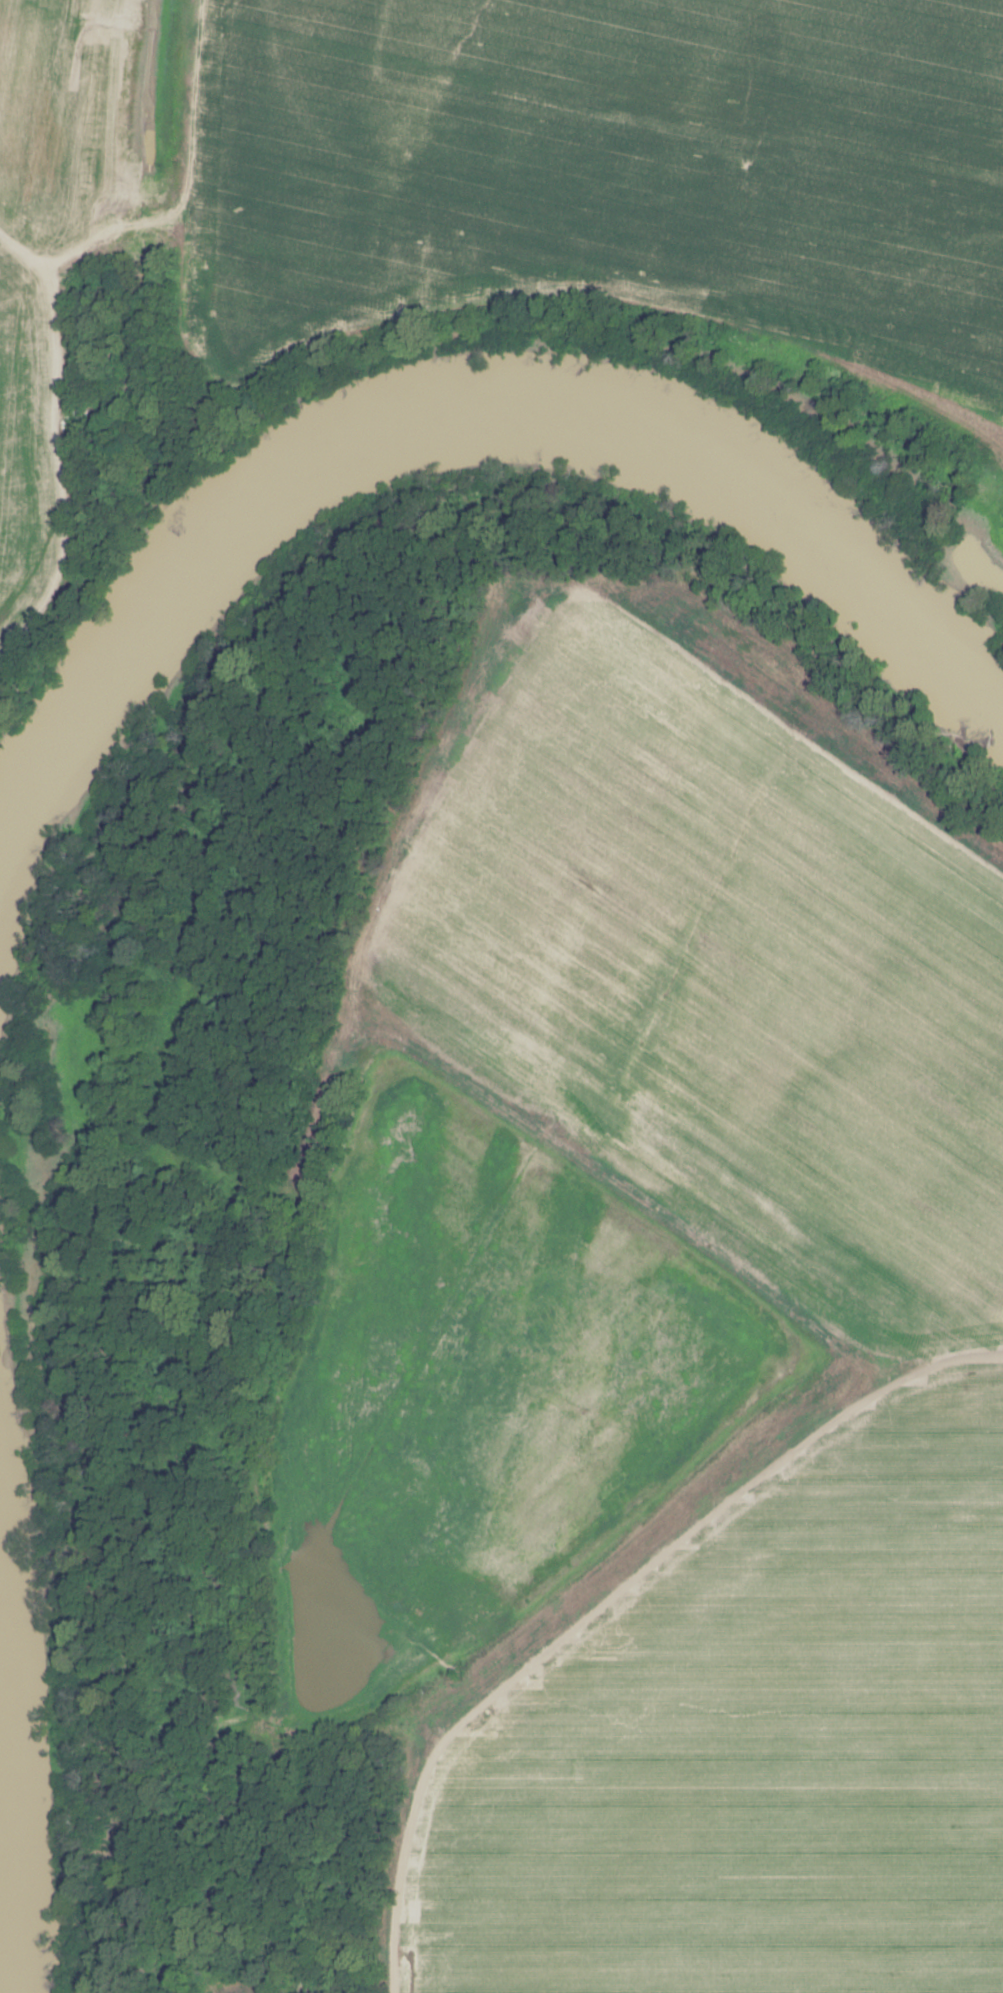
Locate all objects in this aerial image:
road: (10, 40)
road: (478, 297)
river: (417, 424)
road: (170, 453)
road: (609, 1600)
river: (13, 1839)

